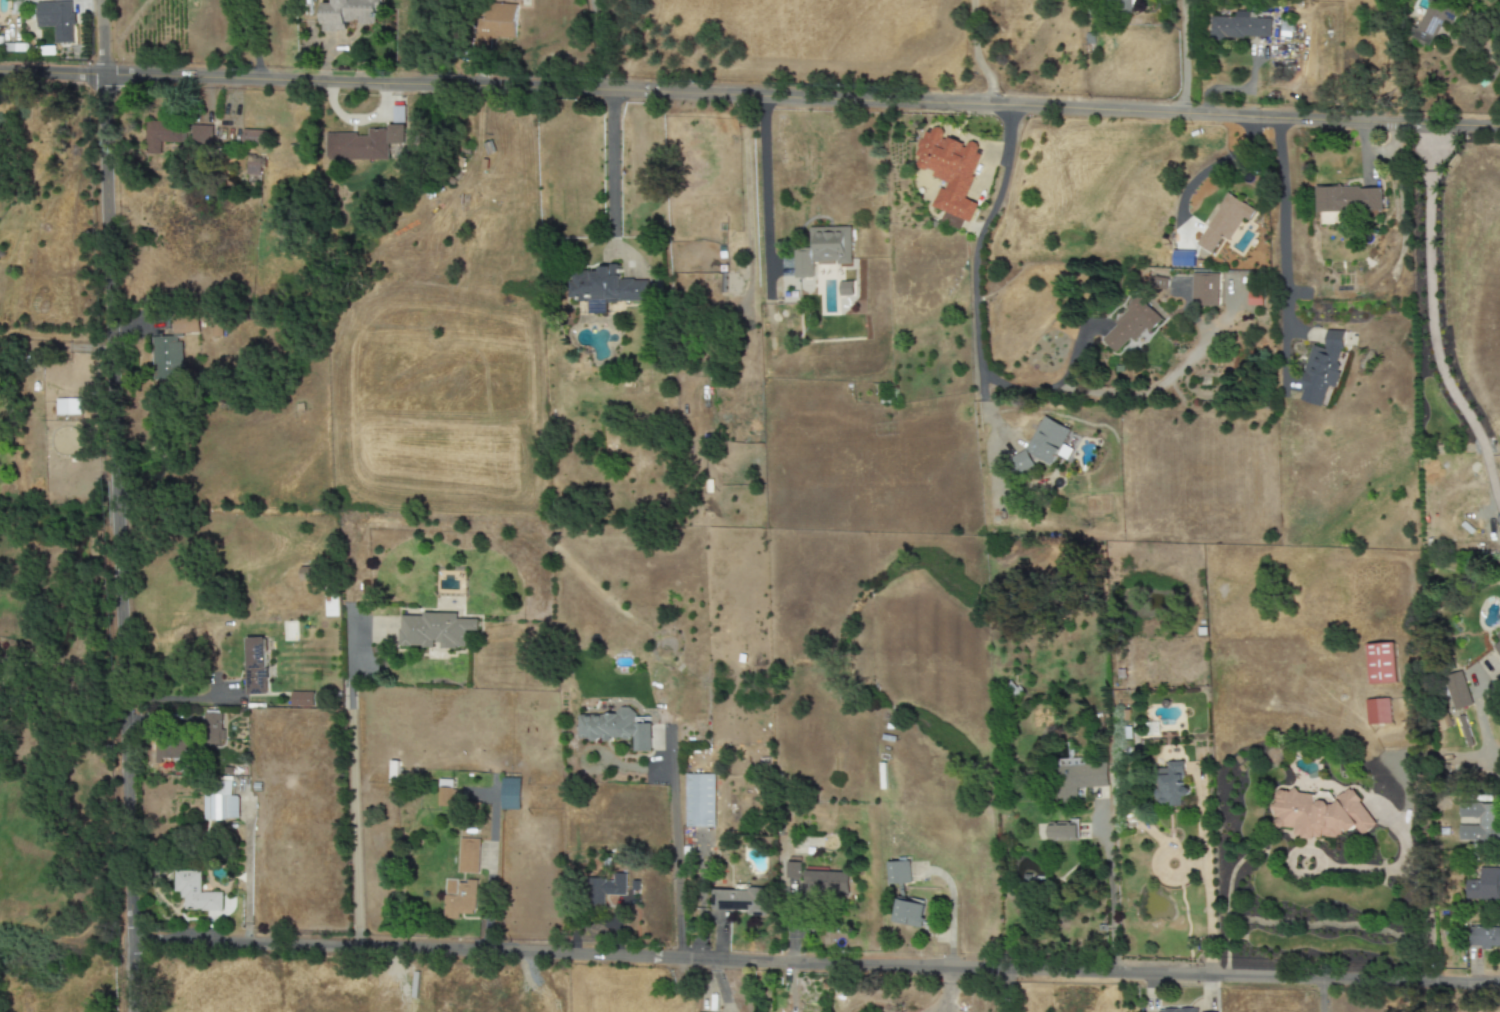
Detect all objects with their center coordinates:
building: (1123, 7)
building: (348, 13)
building: (55, 19)
building: (1499, 21)
building: (1432, 22)
building: (495, 25)
building: (1239, 27)
road: (254, 41)
road: (599, 47)
building: (15, 48)
road: (1485, 51)
road: (979, 54)
road: (1182, 57)
road: (212, 79)
road: (444, 89)
road: (981, 108)
building: (177, 135)
building: (254, 137)
building: (364, 144)
building: (253, 169)
building: (950, 171)
road: (1277, 171)
road: (611, 172)
road: (763, 192)
building: (1348, 199)
building: (950, 221)
building: (1224, 222)
road: (104, 225)
building: (823, 250)
building: (1183, 259)
building: (1159, 283)
building: (1204, 288)
building: (605, 289)
road: (977, 306)
road: (1428, 318)
building: (1131, 324)
building: (185, 325)
building: (166, 358)
building: (1322, 369)
building: (67, 406)
building: (1049, 441)
road: (989, 445)
road: (158, 452)
building: (1020, 463)
road: (116, 491)
building: (1498, 520)
building: (434, 630)
building: (1497, 643)
road: (46, 662)
building: (1380, 664)
building: (255, 665)
building: (1457, 691)
road: (177, 698)
building: (302, 699)
building: (1377, 711)
road: (159, 719)
building: (615, 728)
building: (212, 729)
road: (1489, 730)
building: (174, 750)
road: (1, 756)
road: (124, 771)
building: (1076, 780)
building: (1171, 784)
building: (445, 793)
building: (510, 794)
building: (699, 800)
building: (221, 804)
road: (351, 811)
building: (1320, 814)
building: (1479, 822)
building: (1062, 831)
road: (674, 848)
building: (468, 856)
building: (792, 870)
road: (488, 872)
building: (897, 872)
road: (245, 875)
building: (825, 883)
road: (1205, 883)
building: (1483, 885)
building: (604, 888)
road: (1418, 890)
building: (195, 893)
road: (1109, 893)
building: (459, 898)
building: (741, 900)
building: (908, 913)
building: (1484, 937)
road: (813, 966)
road: (1002, 992)
road: (1321, 998)
road: (1430, 1000)
building: (1179, 1010)

